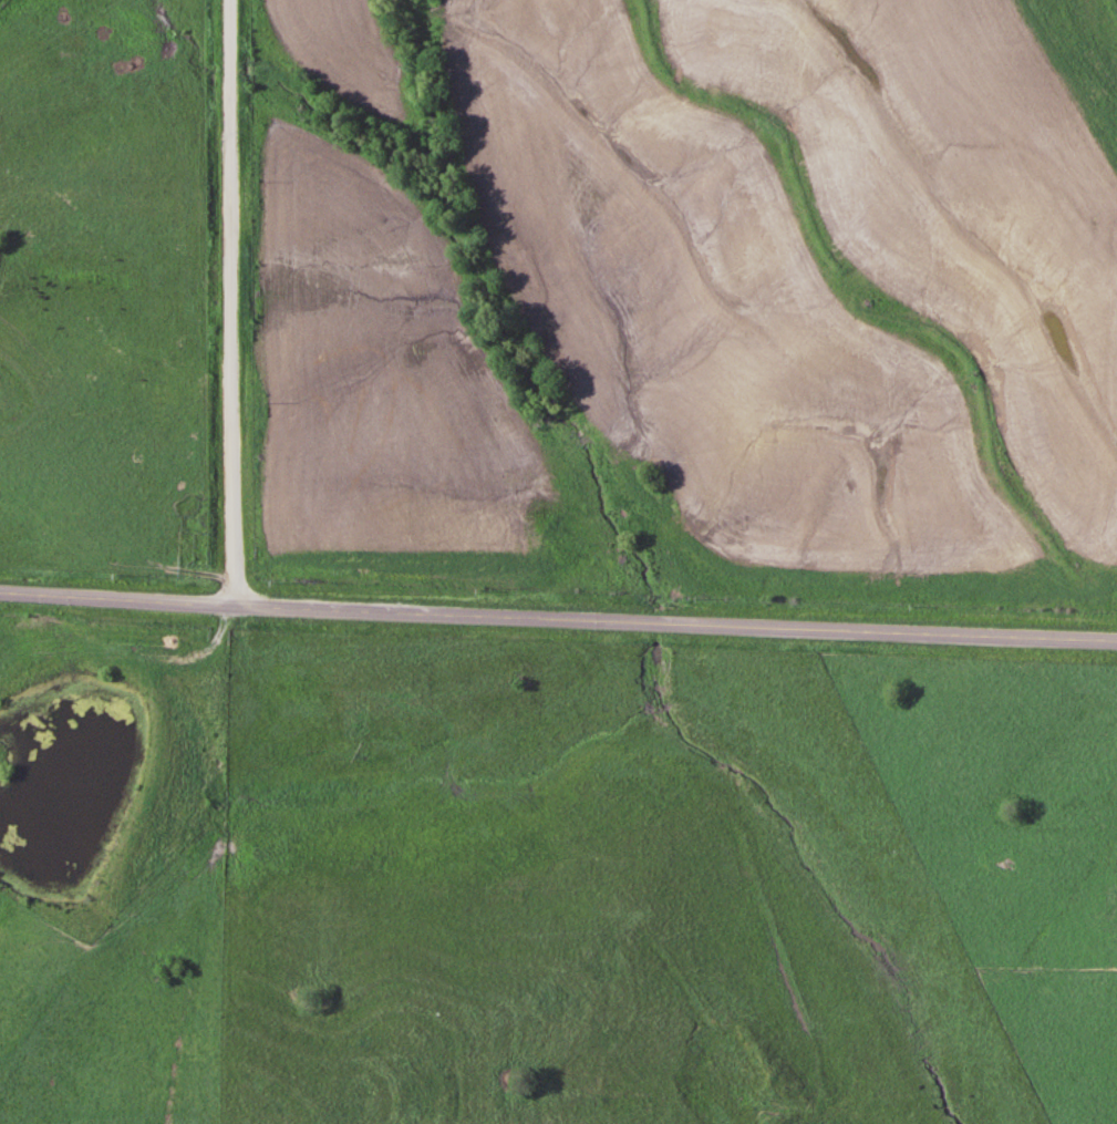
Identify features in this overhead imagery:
road: (228, 300)
road: (558, 615)

